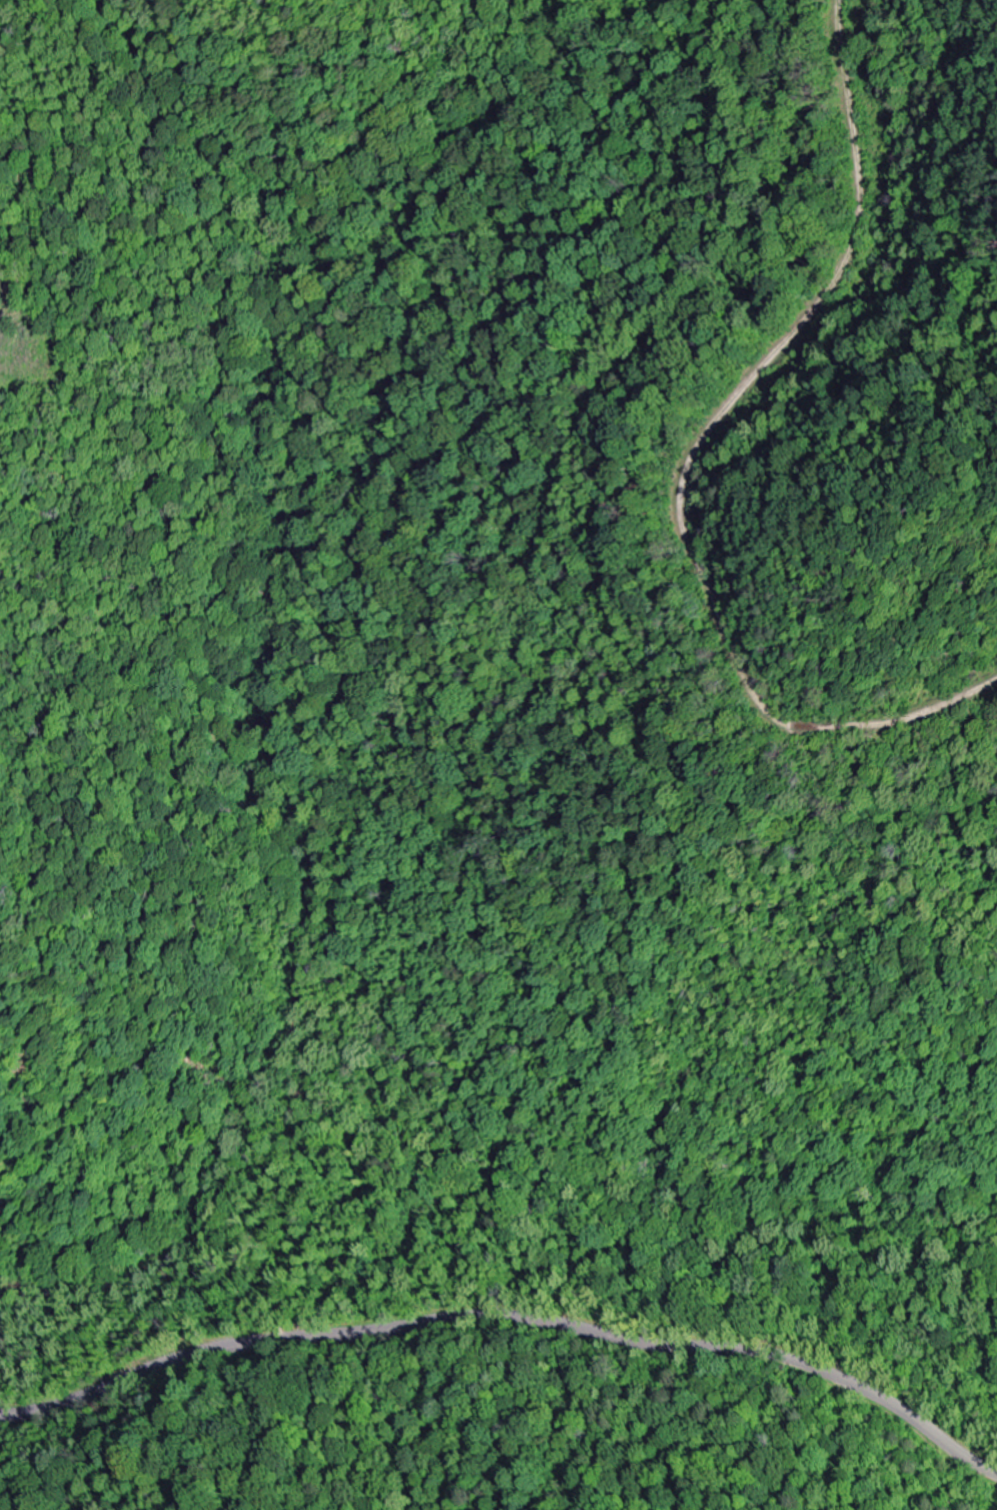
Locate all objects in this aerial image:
road: (508, 1316)

